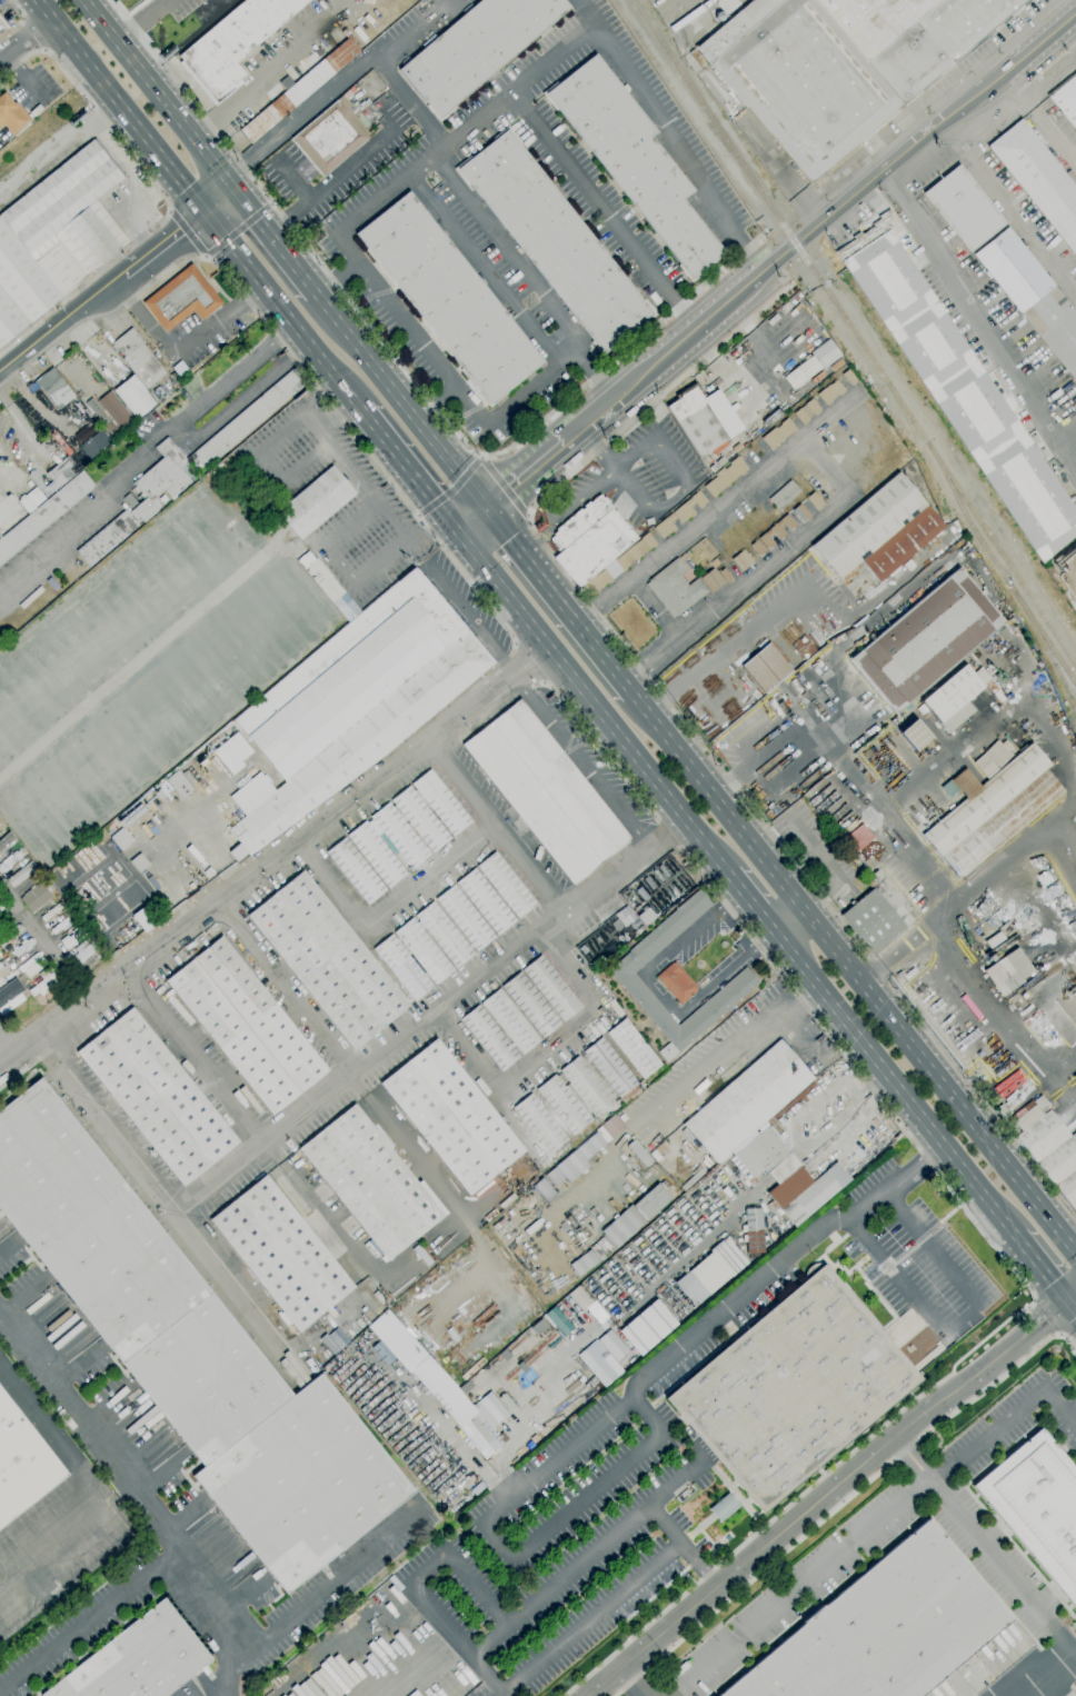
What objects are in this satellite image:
parking lot: (6, 11)
road: (20, 20)
road: (140, 20)
building: (3, 24)
road: (1069, 31)
road: (32, 34)
street lamp: (4, 39)
road: (26, 40)
road: (1038, 42)
building: (233, 43)
building: (475, 48)
street lamp: (60, 64)
building: (839, 64)
road: (1046, 68)
railway: (116, 71)
road: (257, 77)
road: (338, 84)
parking lot: (32, 88)
road: (153, 90)
building: (299, 91)
building: (1066, 100)
road: (409, 102)
road: (121, 107)
building: (11, 116)
road: (1038, 120)
road: (670, 134)
building: (329, 138)
road: (56, 142)
road: (114, 152)
road: (896, 157)
building: (632, 161)
road: (569, 168)
building: (1038, 179)
traffic signals: (226, 180)
road: (295, 180)
road: (893, 189)
road: (161, 193)
road: (216, 197)
road: (122, 206)
road: (1007, 206)
road: (371, 207)
building: (963, 208)
traffic signals: (207, 215)
road: (291, 219)
railway: (783, 227)
building: (56, 236)
road: (270, 236)
road: (496, 236)
building: (554, 242)
road: (166, 247)
road: (215, 249)
road: (484, 268)
road: (765, 268)
building: (1032, 296)
building: (449, 298)
building: (181, 299)
road: (282, 311)
road: (60, 321)
road: (695, 328)
road: (985, 331)
road: (183, 349)
building: (824, 353)
building: (138, 359)
road: (440, 369)
road: (403, 372)
building: (799, 372)
building: (848, 378)
building: (958, 387)
building: (52, 390)
building: (829, 392)
building: (133, 397)
road: (399, 401)
road: (609, 403)
building: (92, 406)
building: (806, 411)
building: (247, 419)
building: (102, 420)
road: (340, 420)
building: (696, 420)
road: (182, 428)
building: (778, 433)
building: (94, 443)
railway: (923, 453)
road: (481, 458)
road: (476, 463)
building: (220, 466)
road: (408, 470)
road: (828, 470)
building: (57, 476)
road: (524, 476)
building: (725, 477)
road: (363, 480)
building: (784, 495)
building: (31, 499)
building: (698, 499)
building: (814, 501)
building: (315, 502)
building: (149, 503)
building: (7, 508)
road: (94, 510)
traffic signals: (485, 511)
building: (683, 511)
building: (800, 513)
building: (43, 515)
road: (471, 521)
building: (788, 522)
building: (664, 526)
building: (880, 529)
building: (777, 530)
traffic signals: (459, 532)
building: (766, 539)
building: (589, 540)
building: (757, 548)
building: (740, 560)
railway: (1004, 560)
road: (338, 561)
building: (618, 565)
railway: (1000, 571)
building: (684, 586)
building: (330, 589)
road: (558, 600)
road: (652, 610)
road: (471, 620)
road: (740, 635)
building: (926, 640)
building: (825, 651)
railway: (1050, 657)
road: (527, 666)
building: (766, 669)
building: (790, 684)
building: (952, 699)
road: (591, 702)
building: (352, 704)
building: (800, 705)
road: (689, 730)
building: (914, 736)
road: (595, 744)
building: (231, 754)
road: (581, 762)
building: (178, 785)
building: (545, 791)
building: (421, 800)
building: (440, 802)
building: (992, 810)
building: (131, 816)
building: (420, 819)
building: (411, 829)
building: (102, 835)
road: (667, 835)
building: (399, 836)
building: (121, 839)
building: (237, 852)
building: (376, 854)
building: (855, 857)
road: (276, 859)
building: (140, 862)
building: (355, 871)
building: (21, 874)
building: (210, 875)
building: (152, 882)
building: (506, 885)
road: (544, 889)
building: (641, 895)
building: (34, 897)
building: (485, 901)
road: (750, 901)
road: (388, 909)
road: (945, 911)
building: (876, 914)
building: (625, 916)
building: (464, 918)
building: (642, 918)
building: (143, 919)
road: (787, 919)
building: (444, 934)
building: (72, 938)
building: (82, 951)
building: (422, 951)
road: (43, 952)
building: (30, 960)
building: (327, 960)
building: (417, 965)
building: (401, 968)
building: (903, 971)
building: (1007, 971)
building: (2, 974)
road: (853, 974)
building: (625, 978)
building: (676, 982)
building: (43, 984)
building: (551, 989)
road: (661, 992)
building: (12, 996)
building: (1023, 996)
building: (1014, 997)
building: (530, 1005)
building: (509, 1021)
building: (246, 1025)
building: (489, 1038)
road: (8, 1044)
building: (634, 1049)
road: (728, 1049)
road: (546, 1050)
road: (195, 1056)
road: (339, 1058)
building: (609, 1067)
road: (23, 1069)
road: (341, 1078)
road: (894, 1083)
building: (586, 1086)
building: (156, 1097)
building: (747, 1100)
building: (579, 1101)
building: (562, 1105)
building: (1044, 1107)
building: (1002, 1116)
building: (451, 1117)
building: (539, 1124)
building: (1012, 1127)
building: (1049, 1150)
building: (765, 1155)
building: (574, 1160)
road: (216, 1177)
building: (370, 1183)
building: (805, 1191)
building: (500, 1205)
building: (635, 1215)
building: (753, 1231)
road: (191, 1236)
building: (280, 1253)
building: (728, 1257)
building: (581, 1263)
road: (1040, 1267)
building: (691, 1287)
traffic signals: (1067, 1300)
road: (1072, 1306)
road: (1017, 1311)
road: (1045, 1317)
road: (957, 1320)
building: (560, 1326)
building: (646, 1328)
road: (1067, 1328)
road: (1068, 1340)
building: (192, 1354)
building: (601, 1357)
building: (424, 1366)
building: (791, 1388)
road: (602, 1421)
road: (918, 1455)
building: (22, 1464)
road: (906, 1464)
road: (86, 1480)
road: (828, 1490)
road: (139, 1498)
building: (724, 1507)
building: (1037, 1507)
road: (833, 1509)
road: (877, 1526)
road: (683, 1545)
road: (581, 1560)
road: (461, 1568)
road: (1004, 1568)
road: (330, 1586)
road: (590, 1618)
road: (89, 1619)
building: (884, 1628)
road: (457, 1640)
parking lot: (373, 1656)
building: (137, 1659)
road: (1045, 1675)
road: (630, 1683)

